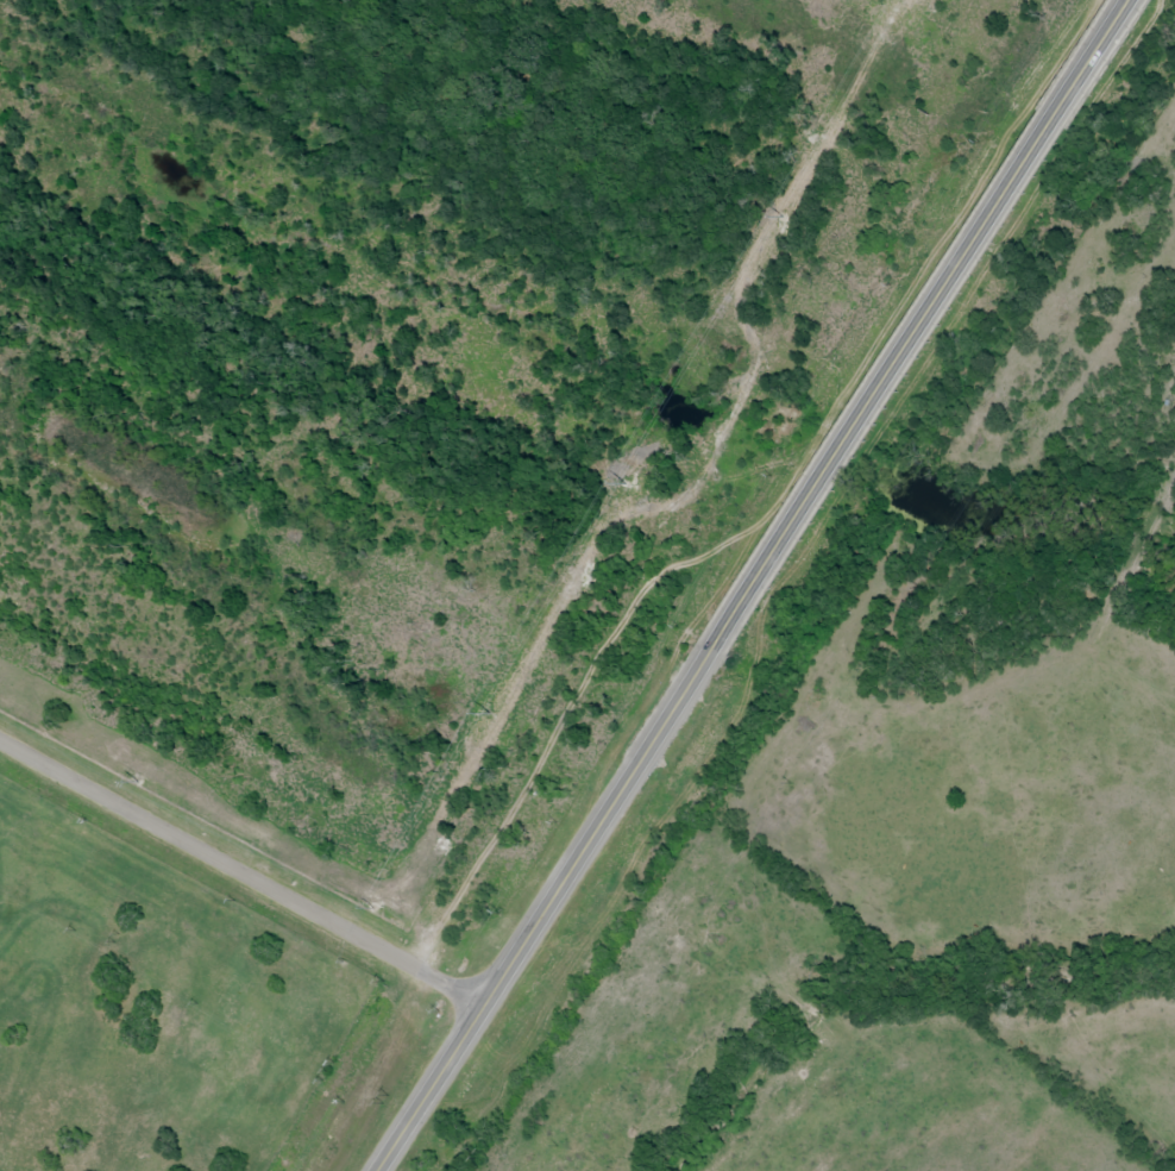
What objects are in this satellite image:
power tower: (780, 215)
road: (917, 332)
power tower: (623, 486)
railway: (607, 585)
power tower: (489, 714)
power tower: (138, 783)
road: (241, 875)
power tower: (375, 909)
road: (539, 918)

